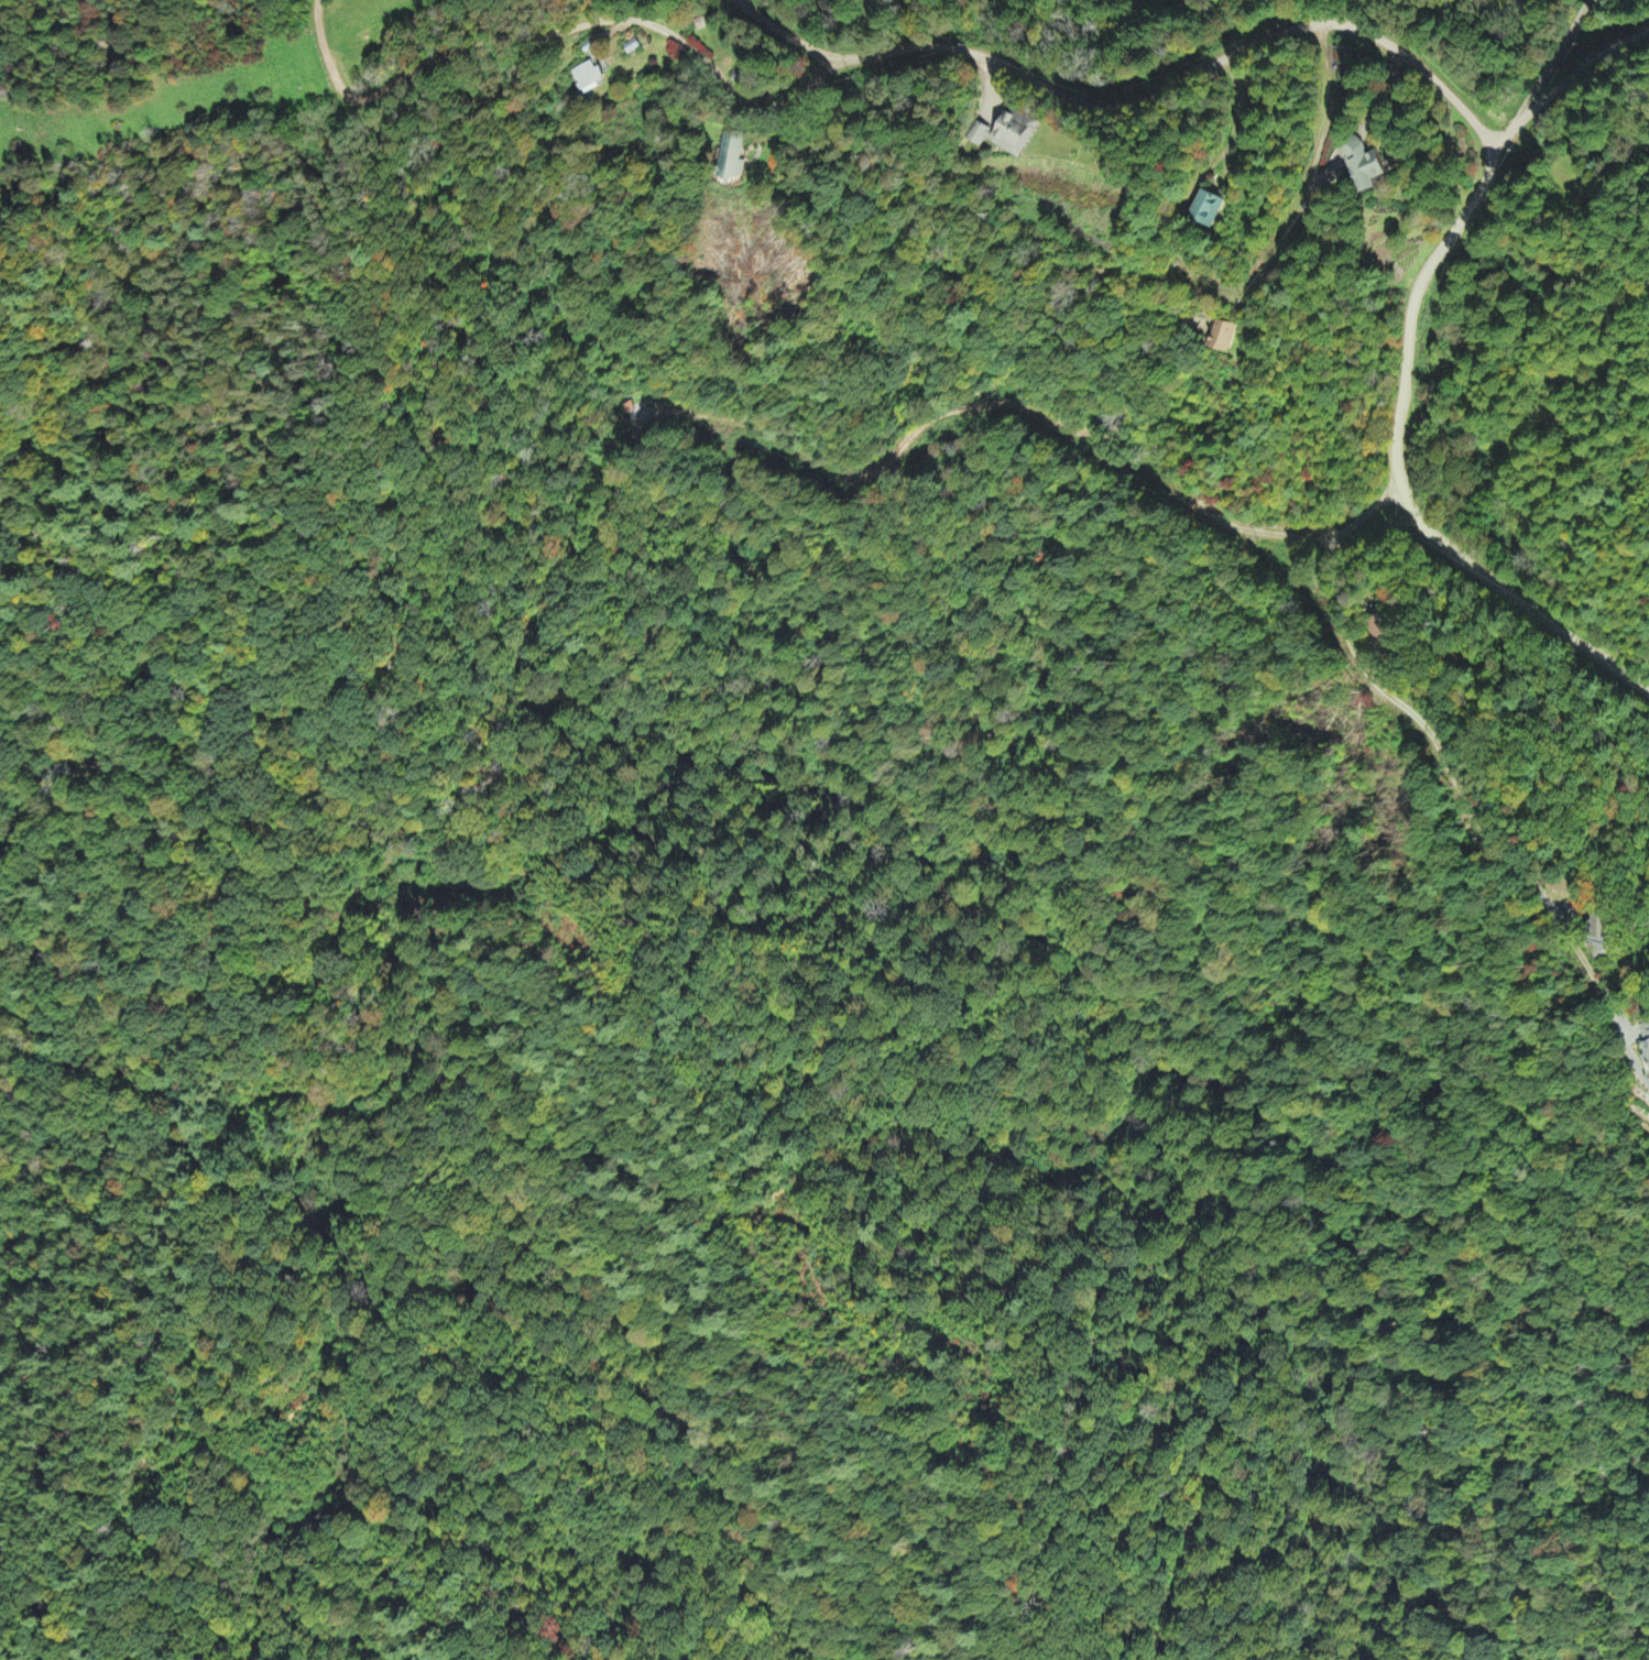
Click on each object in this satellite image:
road: (611, 18)
road: (1186, 73)
building: (592, 76)
road: (1543, 76)
road: (1563, 79)
building: (1017, 130)
building: (979, 133)
building: (733, 155)
building: (1367, 165)
road: (1315, 172)
building: (1210, 207)
road: (1413, 313)
building: (1224, 335)
road: (991, 402)
building: (625, 406)
road: (1519, 596)
building: (1389, 627)
road: (1474, 783)
building: (1603, 925)
building: (1645, 1033)

